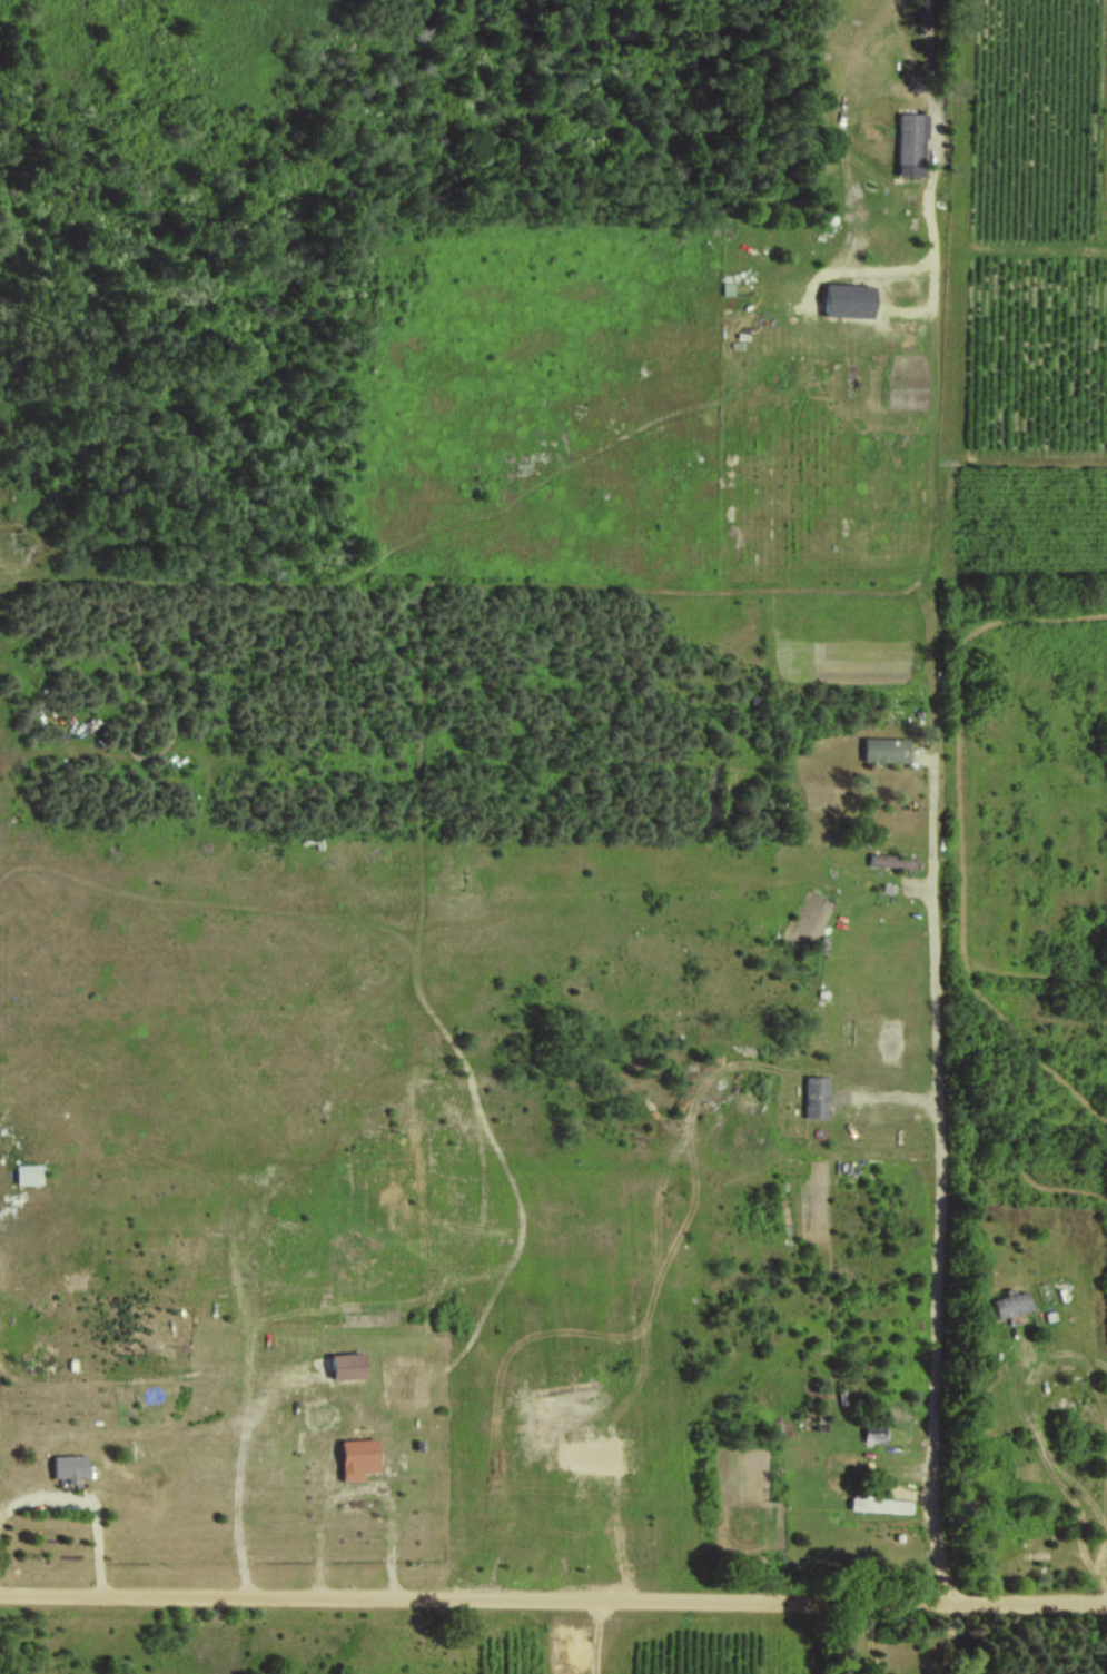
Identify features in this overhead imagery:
road: (933, 73)
building: (910, 143)
building: (727, 287)
building: (849, 300)
building: (886, 749)
building: (891, 860)
building: (888, 1074)
building: (816, 1096)
building: (28, 1173)
road: (943, 1176)
building: (1011, 1302)
building: (348, 1365)
building: (358, 1457)
building: (69, 1466)
road: (245, 1467)
building: (880, 1504)
road: (85, 1507)
road: (553, 1601)
road: (873, 1640)
road: (950, 1640)

